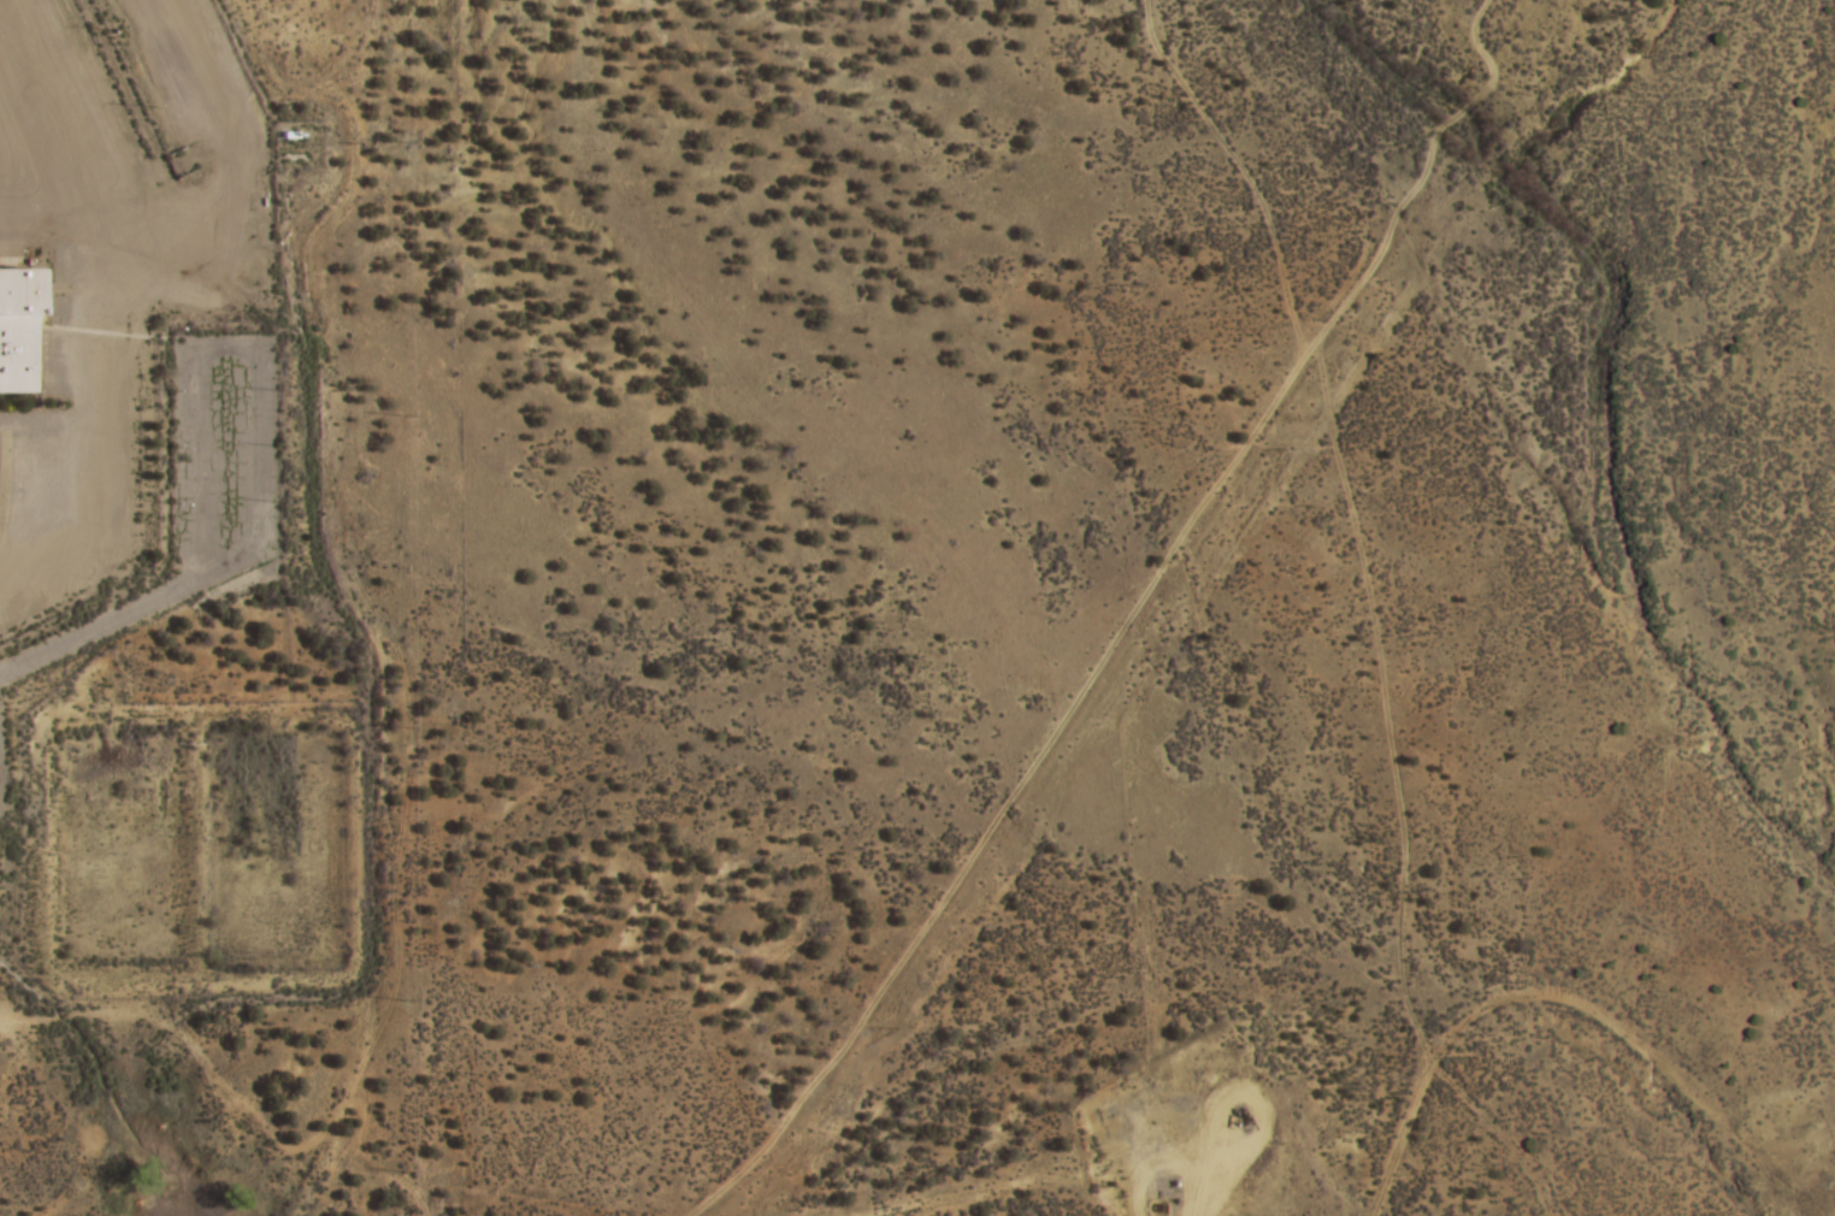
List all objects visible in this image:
building: (10, 331)
road: (1512, 990)

